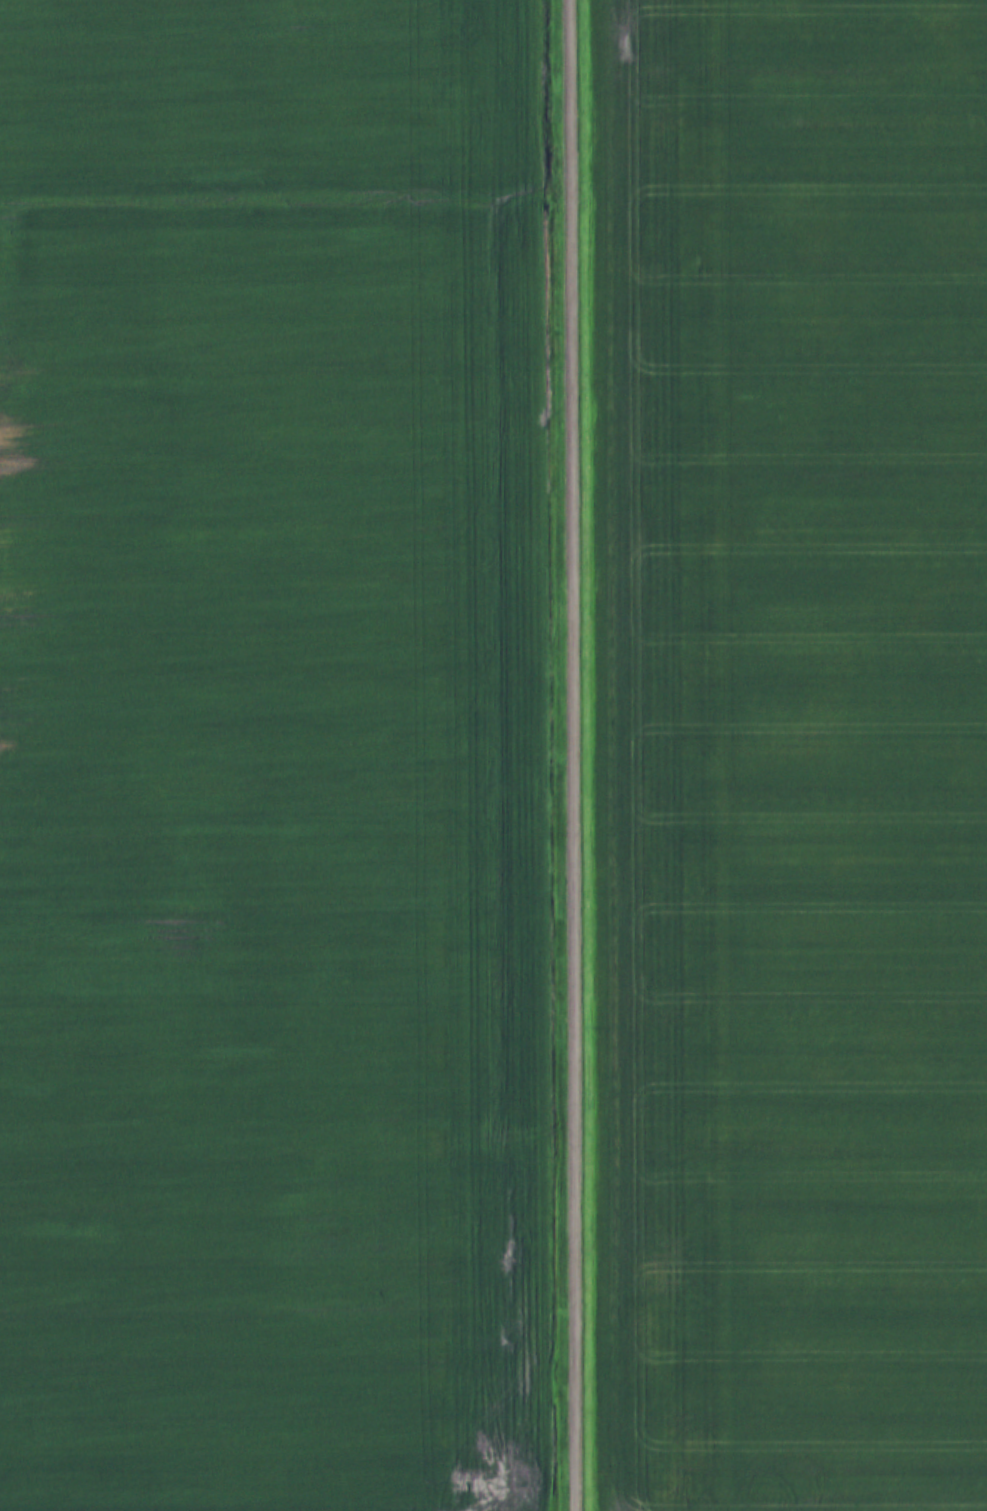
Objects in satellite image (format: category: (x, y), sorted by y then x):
road: (573, 755)

